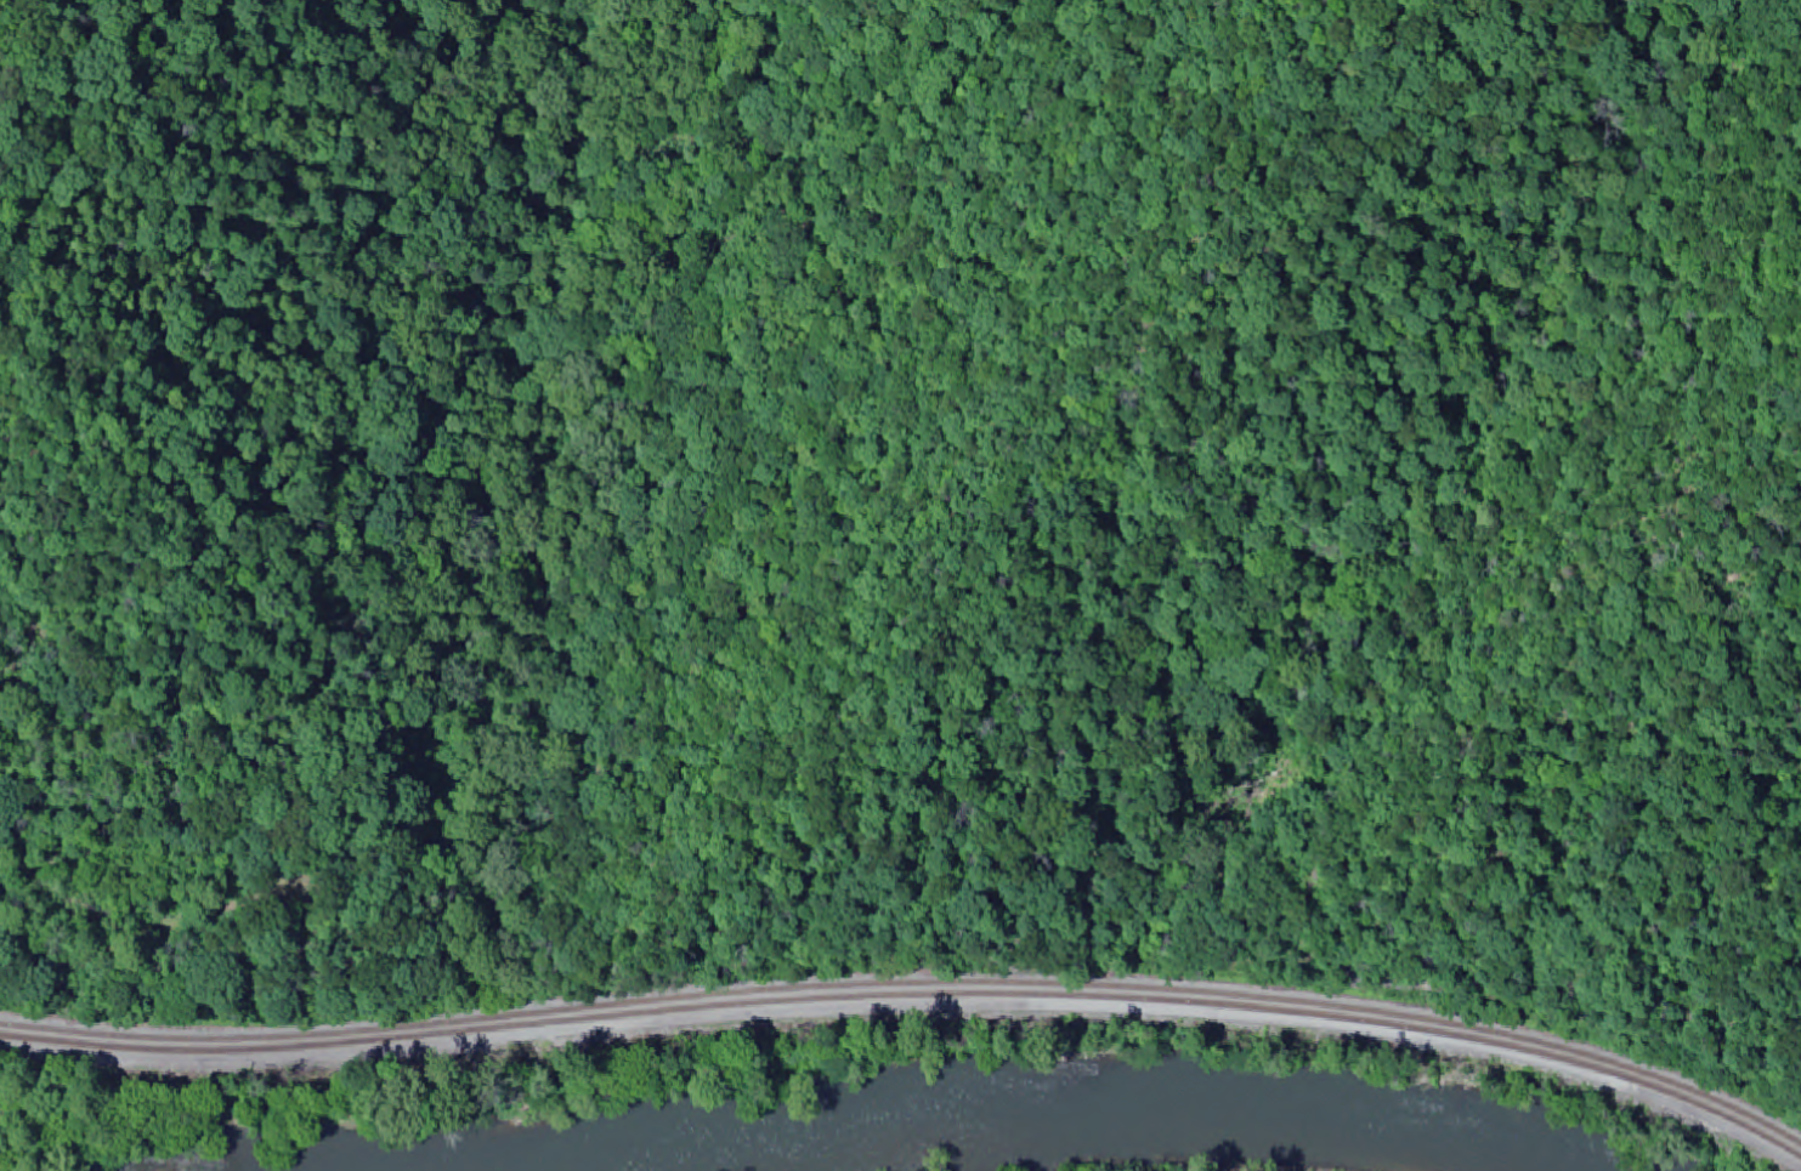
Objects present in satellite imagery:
railway: (912, 988)
road: (910, 1027)
river: (1071, 1098)

